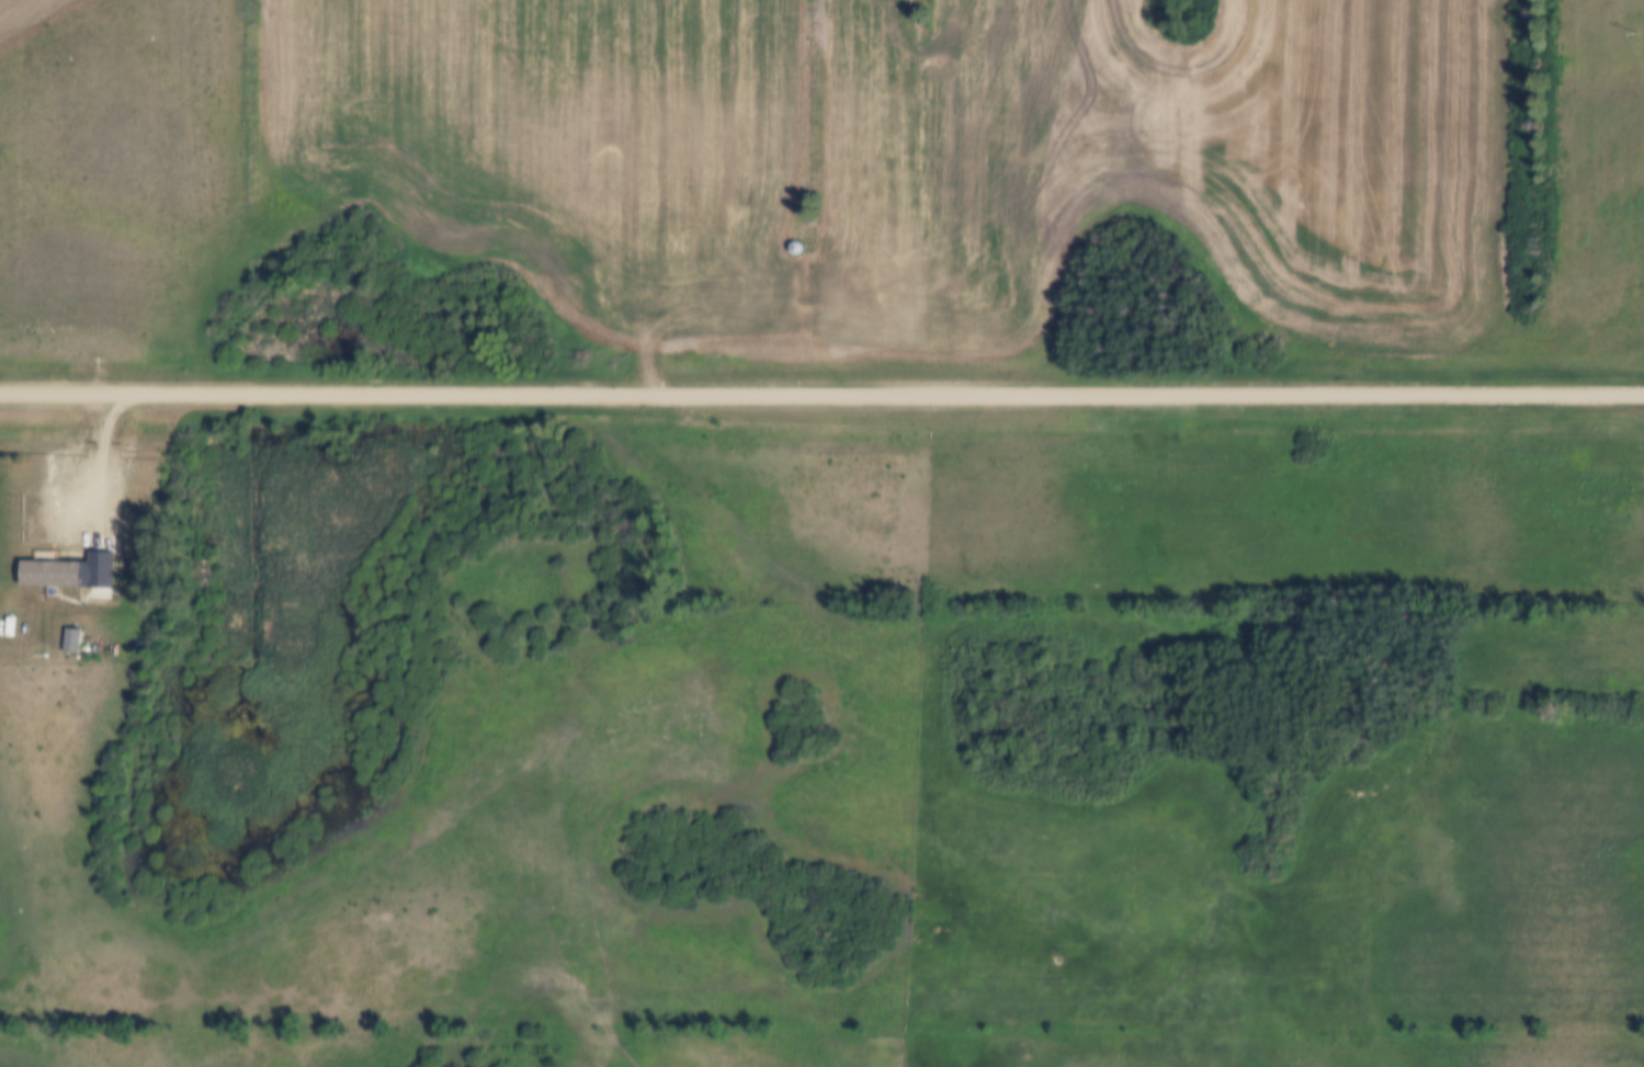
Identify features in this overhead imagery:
building: (793, 249)
road: (821, 397)
building: (53, 572)

